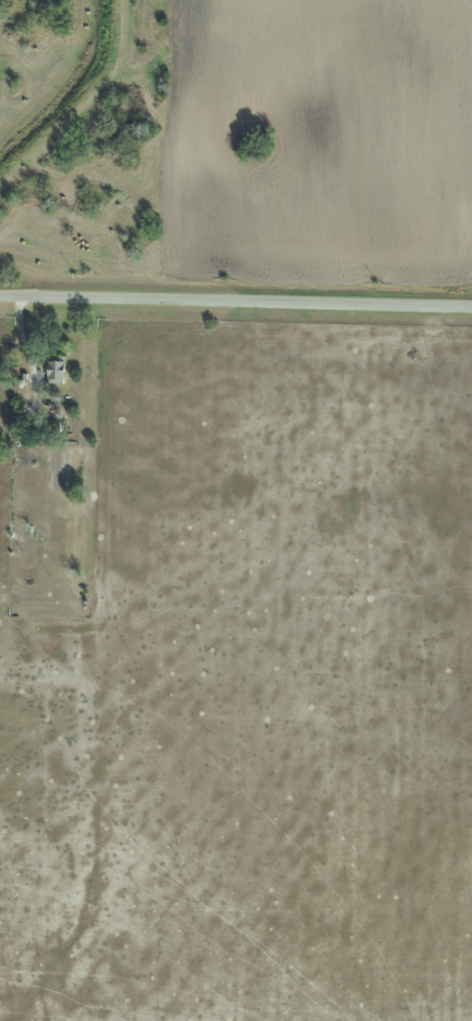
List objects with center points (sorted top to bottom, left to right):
road: (236, 303)
building: (51, 370)
building: (51, 427)

